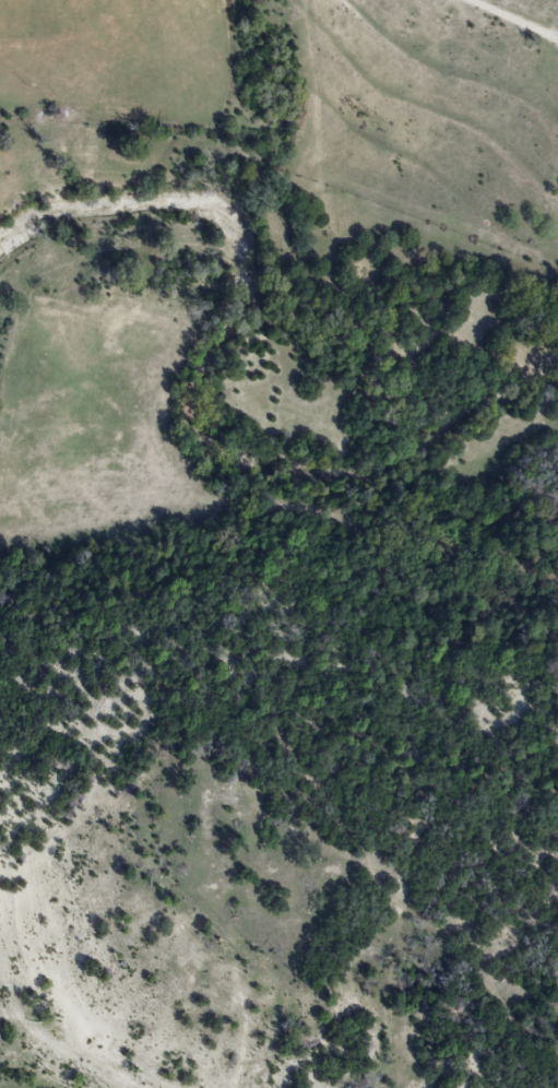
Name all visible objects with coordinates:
road: (531, 13)

